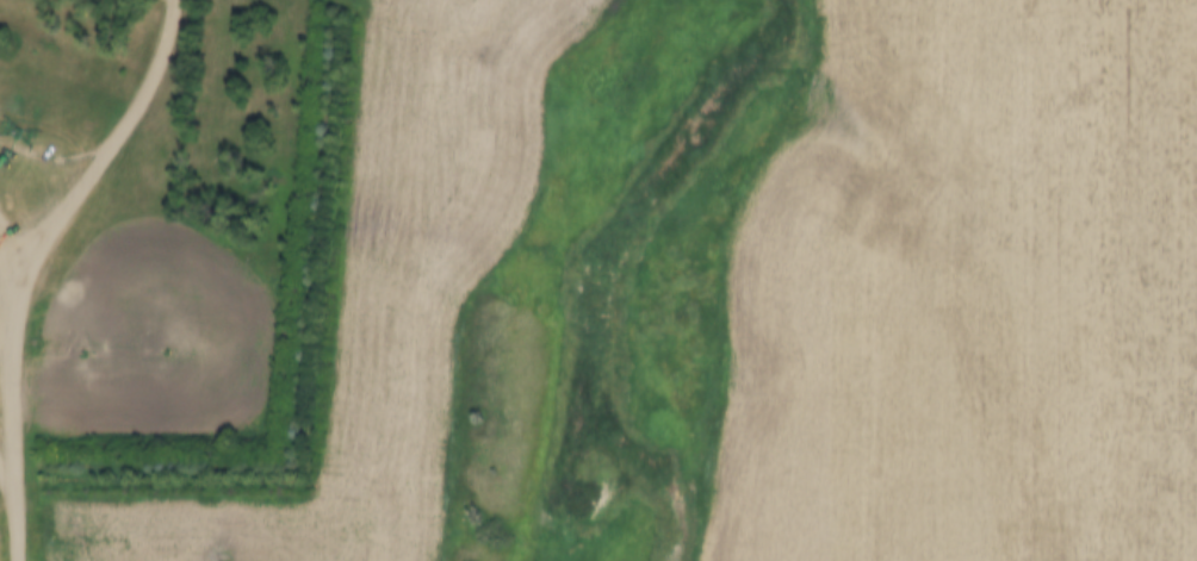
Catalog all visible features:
road: (37, 262)
road: (12, 268)
road: (10, 495)

